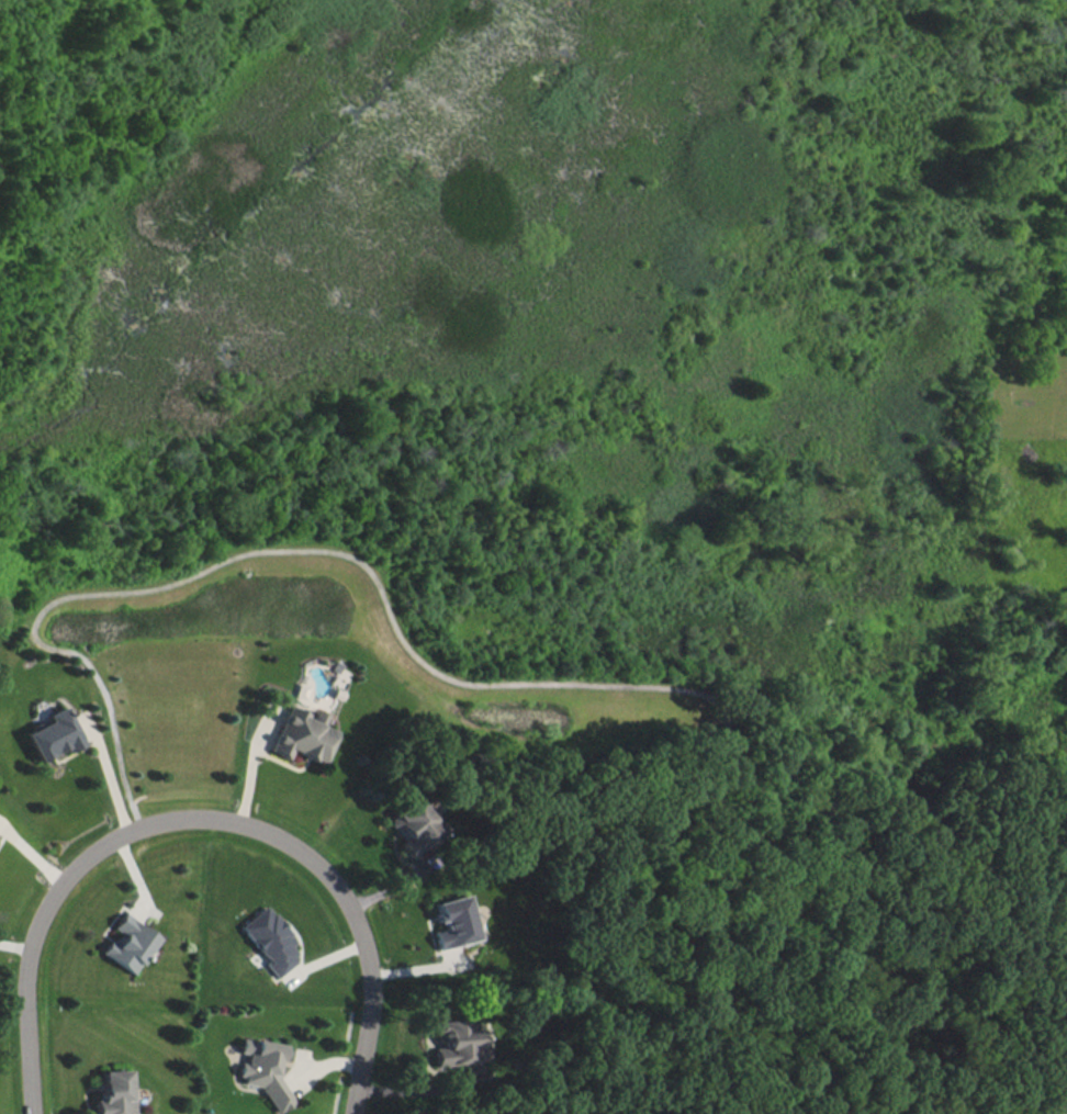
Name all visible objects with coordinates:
building: (300, 733)
building: (50, 734)
road: (115, 774)
road: (196, 815)
building: (411, 825)
building: (451, 921)
building: (268, 938)
building: (127, 943)
building: (459, 1045)
building: (262, 1069)
building: (112, 1092)

